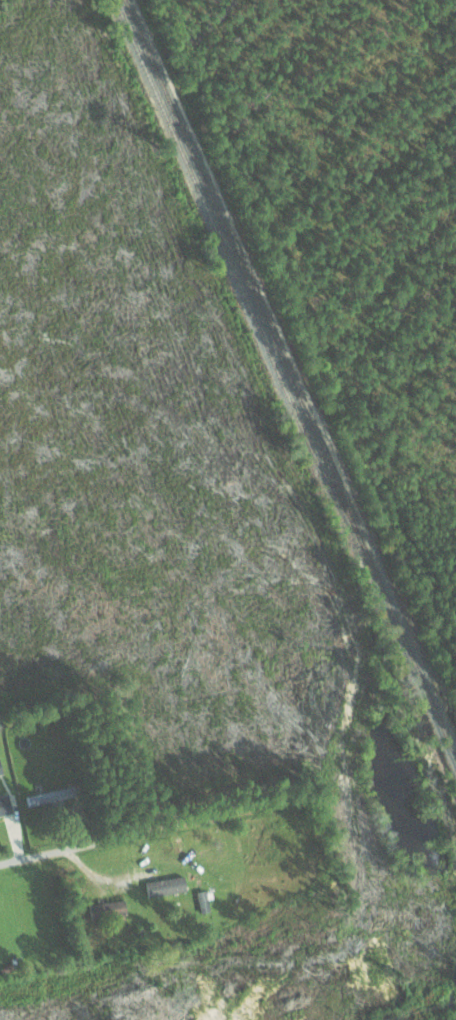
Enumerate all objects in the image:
railway: (293, 379)
building: (1, 767)
building: (53, 794)
building: (6, 803)
road: (20, 861)
building: (168, 885)
building: (109, 909)

